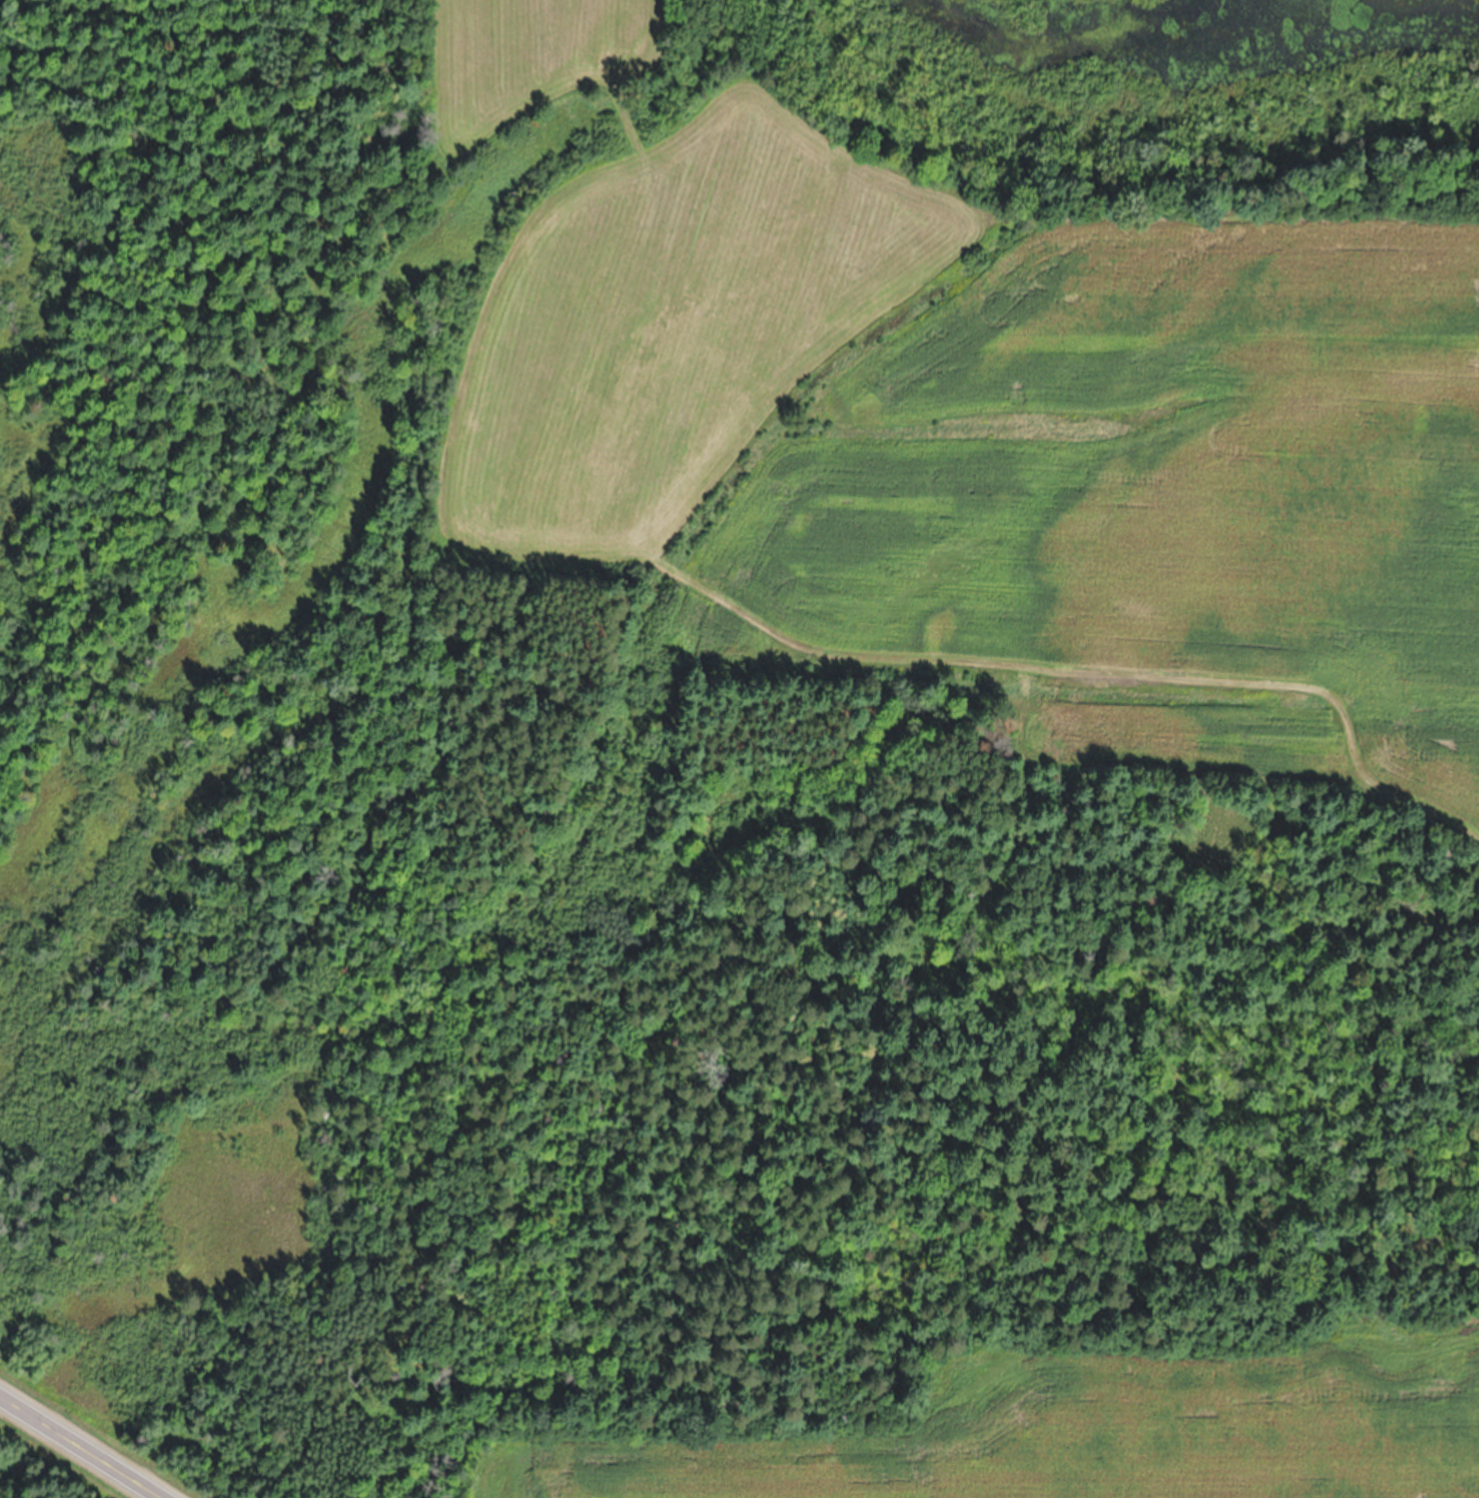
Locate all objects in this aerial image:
road: (78, 1448)

